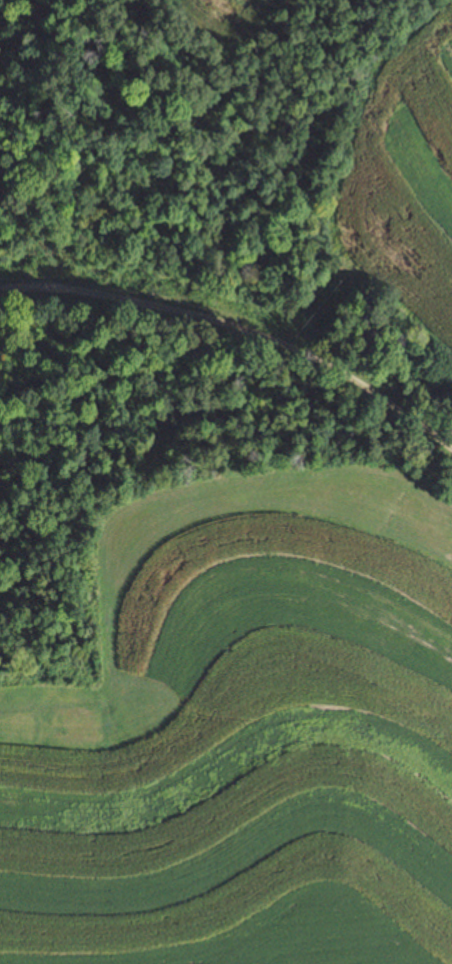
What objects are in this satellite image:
road: (234, 377)

